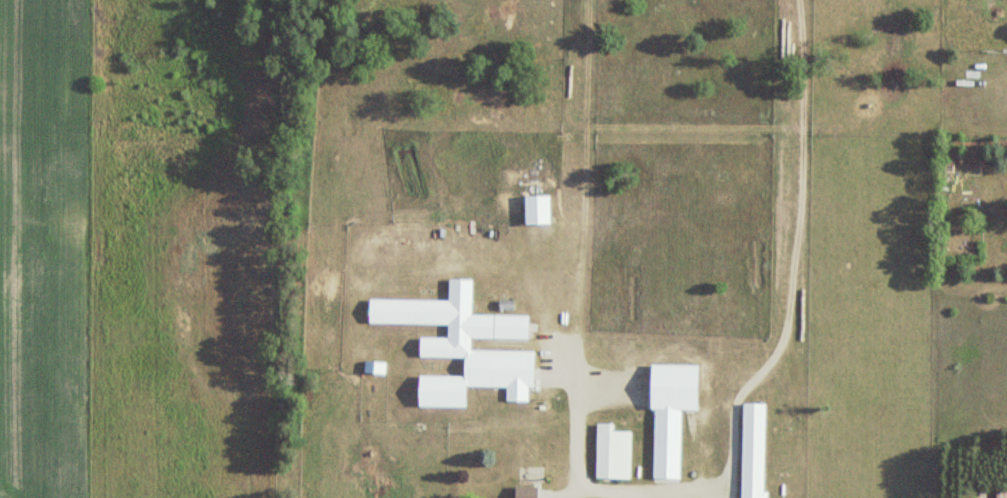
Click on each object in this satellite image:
road: (792, 257)
building: (461, 345)
building: (668, 413)
building: (751, 450)
building: (611, 452)
road: (660, 496)
road: (601, 497)

